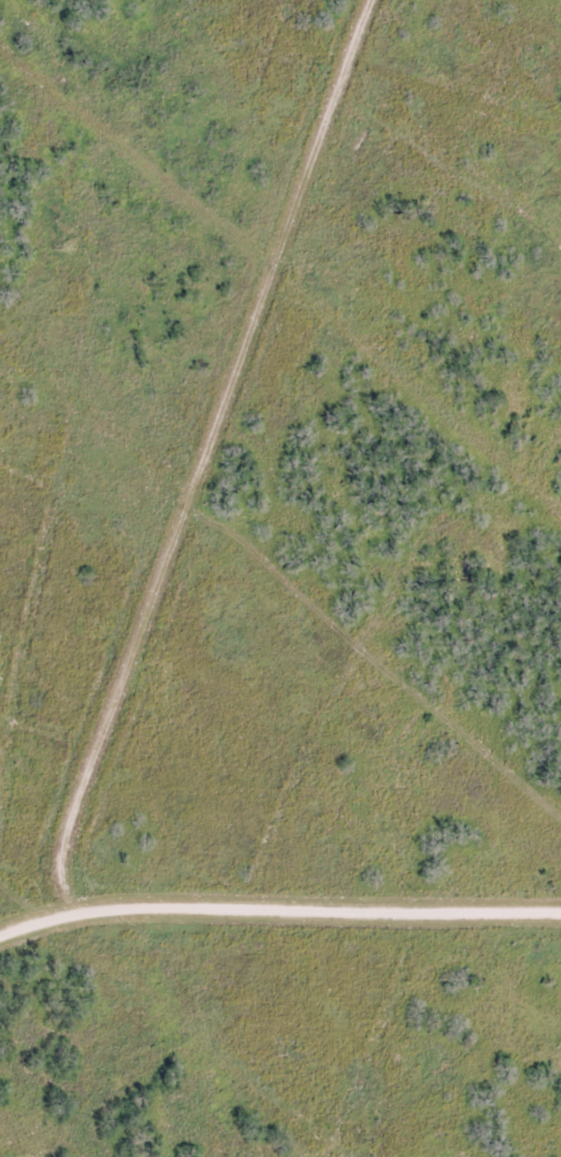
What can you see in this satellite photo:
road: (279, 911)

